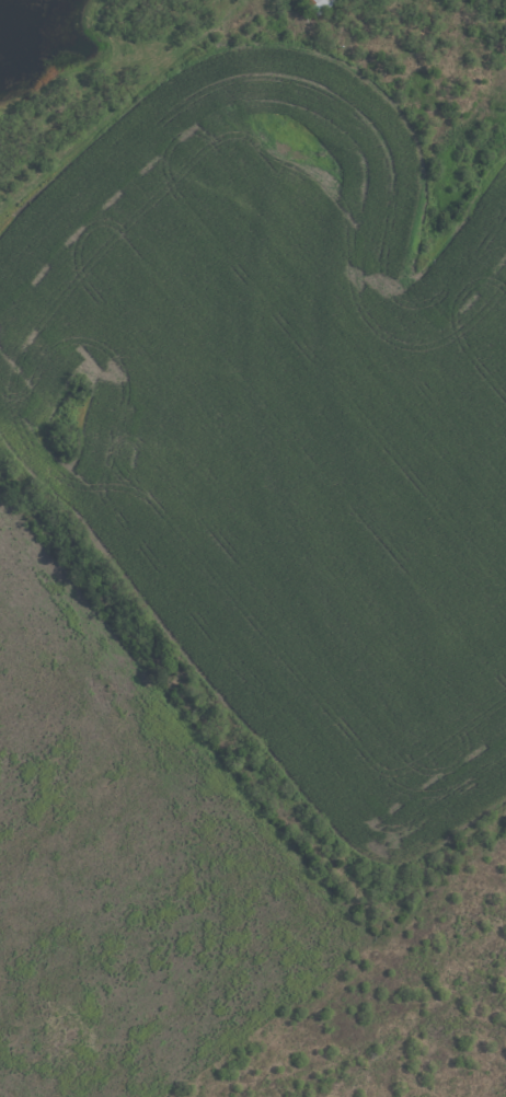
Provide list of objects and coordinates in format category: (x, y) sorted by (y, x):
building: (319, 5)

